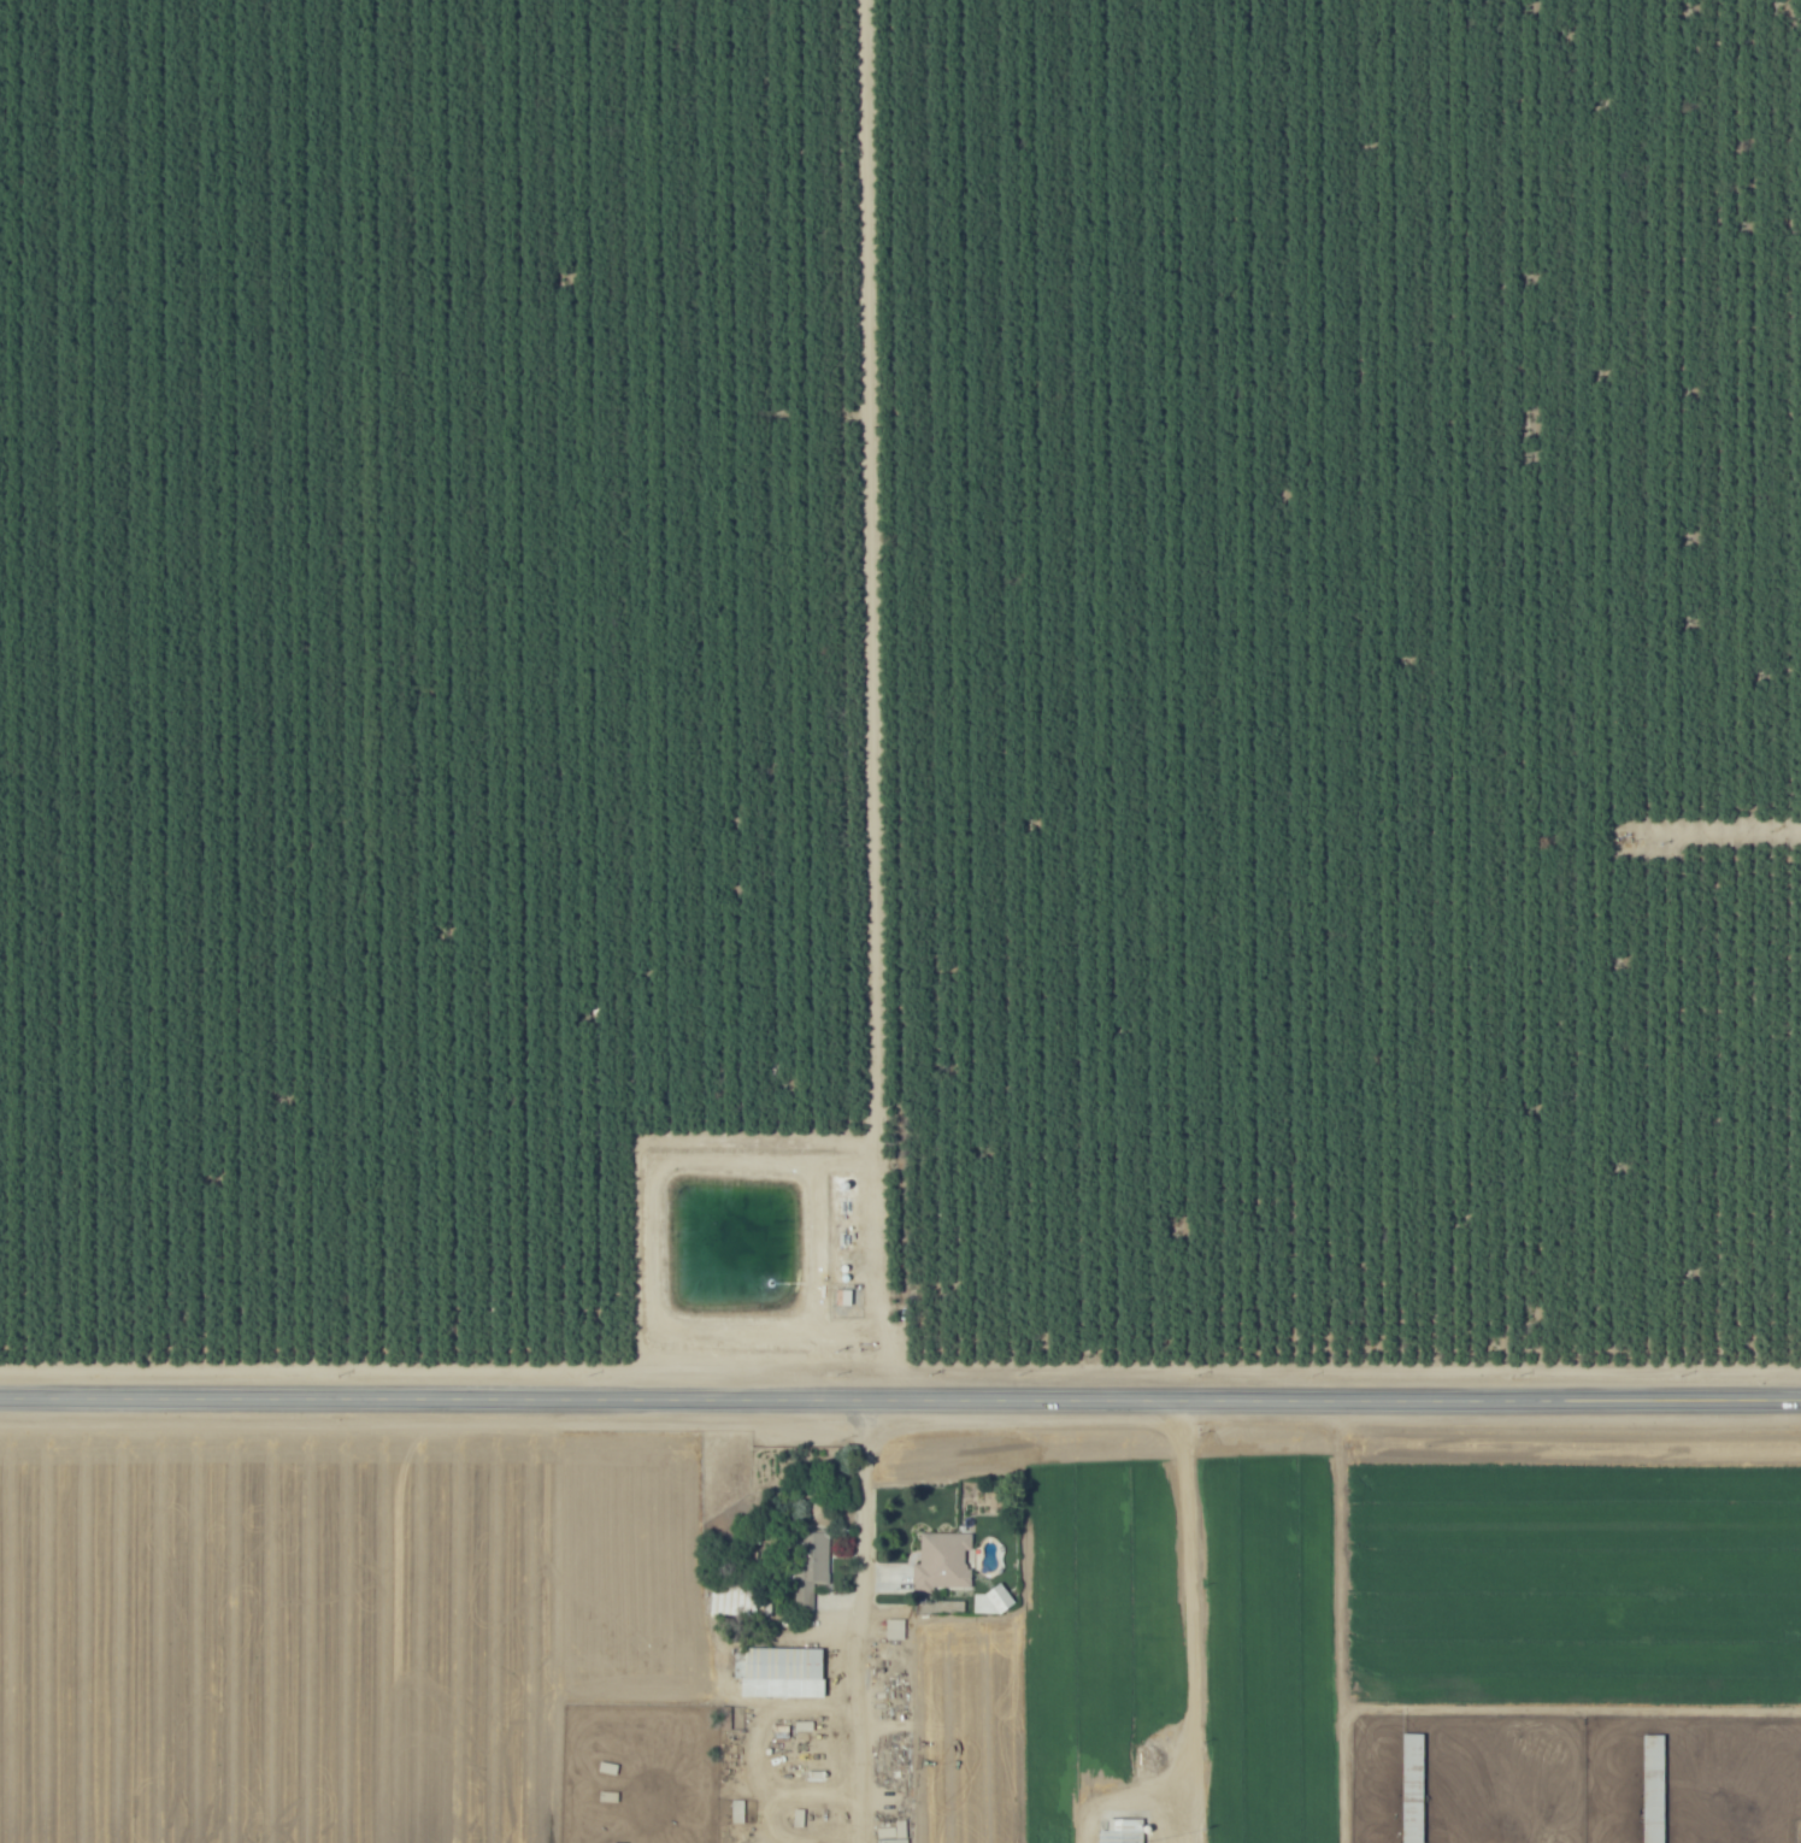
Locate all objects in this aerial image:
road: (871, 699)
road: (651, 1249)
road: (900, 1397)
building: (941, 1561)
building: (807, 1566)
road: (858, 1620)
building: (893, 1629)
crop: (282, 1630)
road: (1193, 1650)
building: (781, 1672)
building: (1120, 1831)

